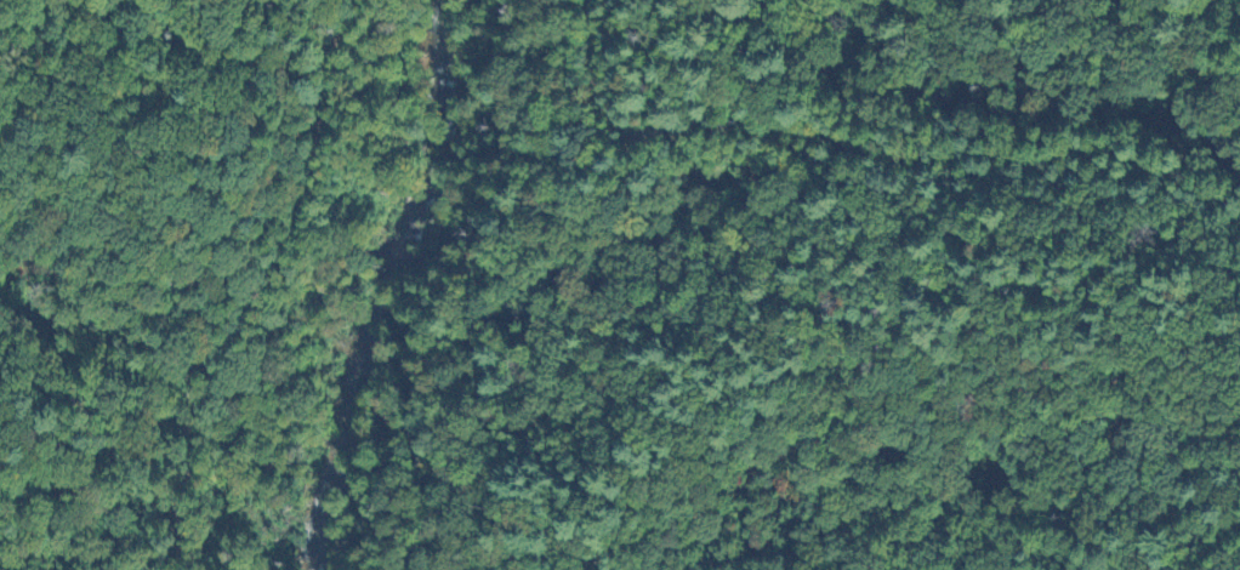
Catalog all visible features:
road: (870, 152)
river: (397, 287)
road: (260, 289)

